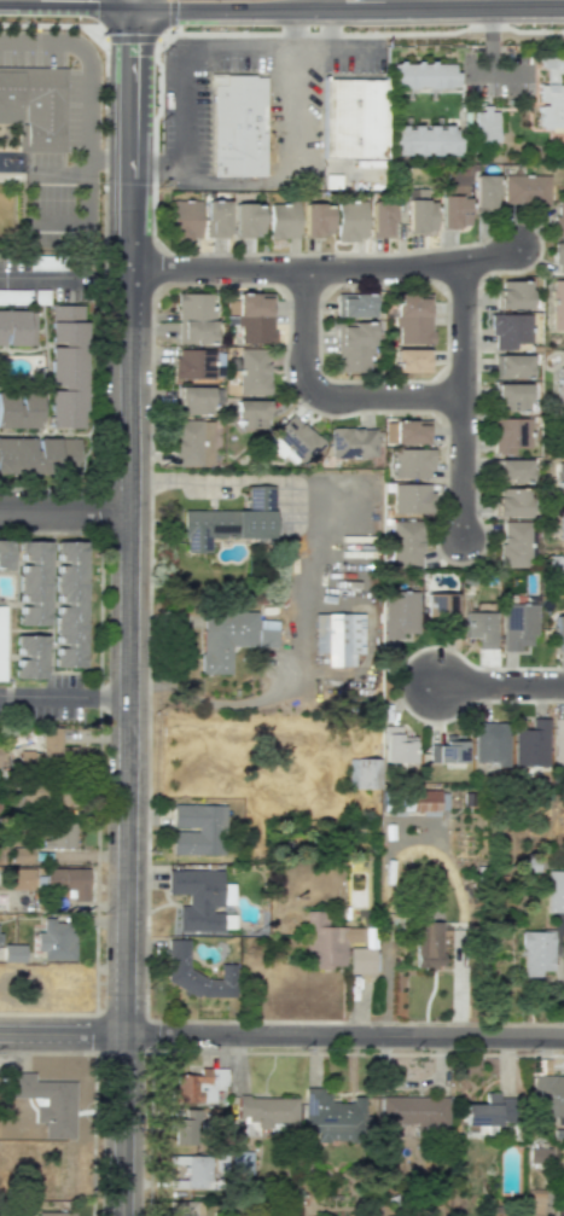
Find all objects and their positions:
road: (118, 0)
road: (130, 0)
road: (332, 0)
road: (443, 0)
traffic signals: (164, 1)
road: (348, 1)
street lamp: (240, 30)
traffic signals: (132, 36)
road: (490, 39)
road: (284, 51)
building: (423, 76)
building: (551, 91)
building: (34, 106)
building: (353, 118)
road: (87, 123)
building: (237, 126)
building: (483, 126)
building: (423, 141)
road: (79, 168)
road: (267, 179)
road: (158, 180)
building: (525, 190)
building: (483, 191)
building: (454, 199)
building: (419, 211)
building: (281, 217)
building: (216, 219)
building: (246, 219)
building: (380, 219)
building: (558, 219)
building: (184, 220)
building: (316, 220)
building: (350, 220)
building: (558, 257)
road: (324, 270)
road: (43, 278)
street lamp: (337, 289)
building: (513, 295)
building: (354, 304)
building: (411, 304)
building: (557, 304)
building: (251, 316)
building: (194, 318)
building: (17, 327)
building: (413, 328)
road: (461, 330)
building: (510, 330)
building: (351, 333)
road: (304, 338)
building: (350, 357)
building: (411, 360)
building: (197, 363)
building: (511, 366)
building: (252, 371)
building: (560, 385)
road: (394, 397)
building: (511, 397)
building: (198, 400)
street lamp: (296, 402)
building: (19, 409)
building: (250, 413)
building: (560, 425)
building: (406, 432)
building: (510, 435)
building: (292, 441)
building: (351, 442)
building: (192, 443)
building: (39, 455)
building: (413, 464)
road: (460, 467)
building: (511, 471)
road: (295, 477)
building: (559, 479)
building: (409, 499)
building: (511, 502)
road: (64, 511)
building: (229, 522)
building: (560, 524)
building: (406, 543)
building: (513, 543)
building: (5, 553)
building: (557, 568)
building: (33, 583)
building: (69, 604)
building: (438, 606)
road: (127, 607)
building: (399, 612)
building: (517, 626)
building: (478, 628)
building: (558, 633)
building: (337, 636)
building: (232, 638)
building: (29, 657)
road: (500, 686)
road: (63, 697)
road: (248, 703)
building: (558, 743)
building: (51, 744)
building: (531, 744)
building: (396, 745)
building: (490, 746)
building: (448, 754)
building: (362, 773)
building: (414, 802)
building: (197, 830)
building: (58, 834)
road: (419, 844)
building: (21, 854)
building: (19, 878)
building: (68, 882)
building: (556, 891)
building: (200, 898)
building: (56, 939)
building: (327, 941)
building: (426, 944)
building: (12, 953)
building: (536, 953)
building: (360, 961)
building: (176, 970)
road: (281, 1036)
building: (198, 1086)
building: (547, 1095)
building: (47, 1104)
building: (411, 1111)
building: (264, 1113)
building: (485, 1113)
building: (332, 1116)
building: (187, 1128)
building: (537, 1154)
building: (240, 1162)
building: (192, 1171)
building: (536, 1200)
building: (560, 1211)
building: (54, 1214)

